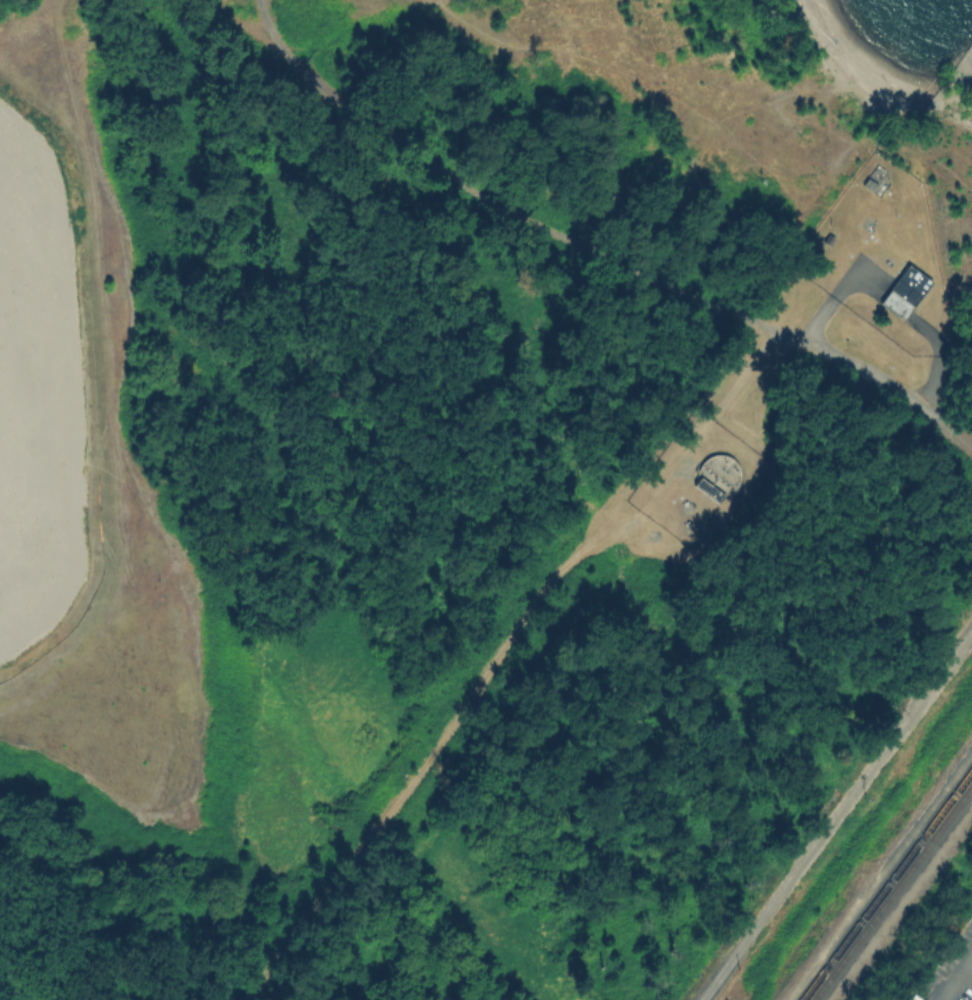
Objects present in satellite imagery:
road: (243, 25)
road: (276, 36)
building: (692, 161)
building: (879, 180)
building: (869, 224)
building: (873, 236)
building: (830, 240)
building: (890, 262)
road: (630, 269)
building: (906, 292)
road: (831, 298)
road: (934, 357)
road: (108, 377)
building: (720, 475)
building: (689, 507)
building: (690, 527)
road: (438, 746)
road: (835, 815)
railway: (905, 856)
railway: (909, 867)
road: (877, 873)
railway: (819, 973)
railway: (828, 976)
road: (956, 980)
building: (912, 997)

